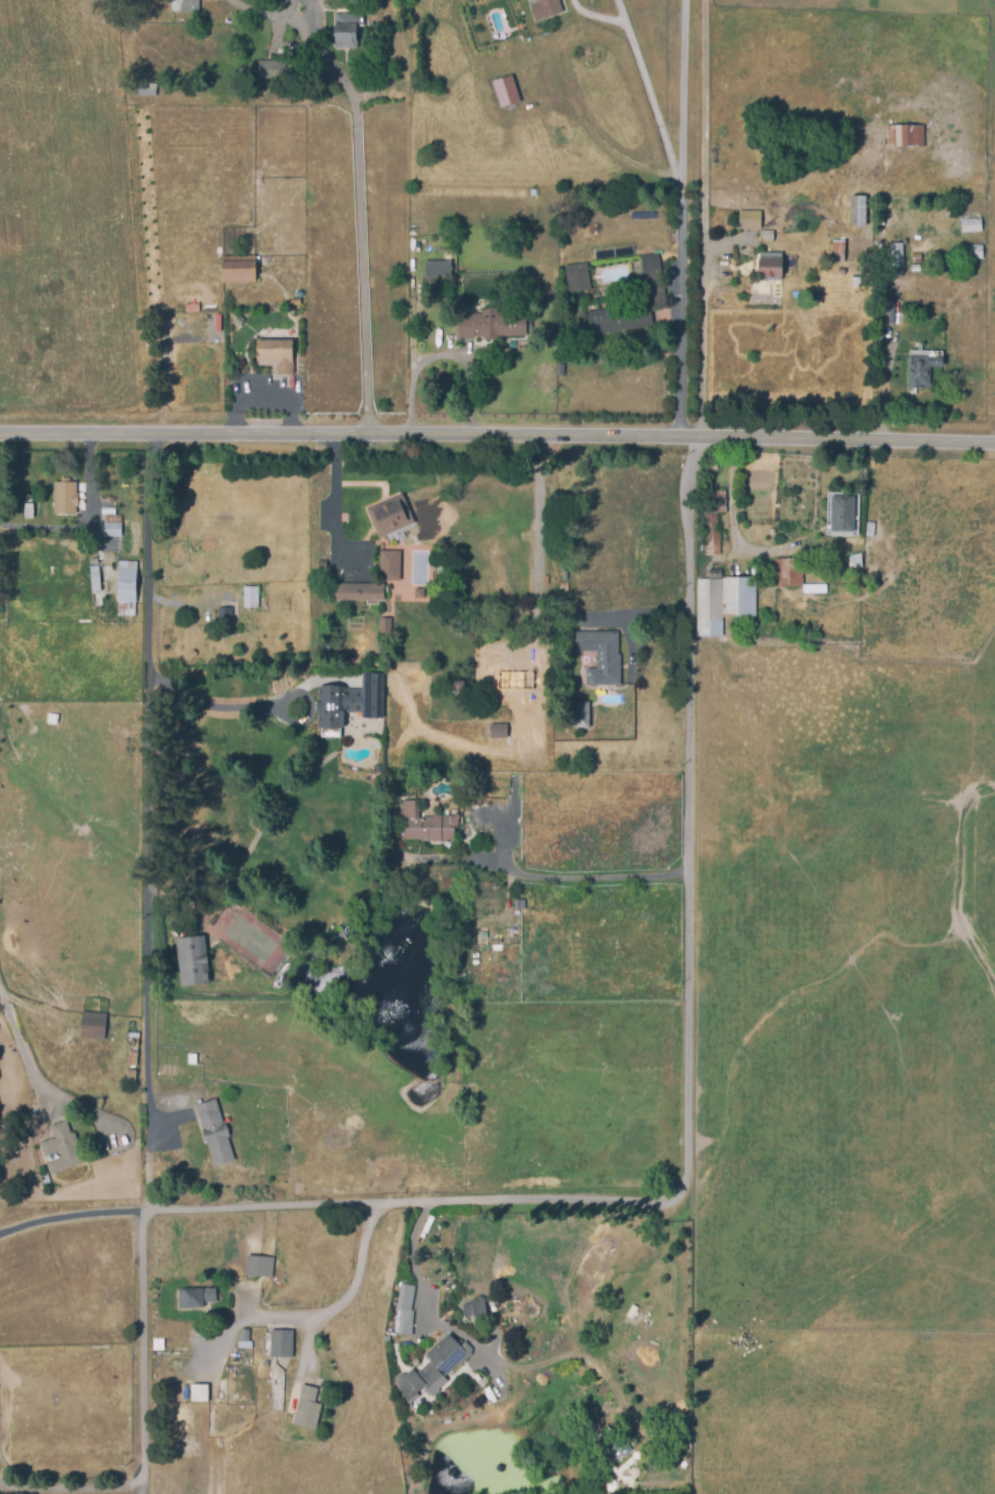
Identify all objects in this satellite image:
building: (184, 5)
building: (545, 9)
road: (619, 9)
road: (594, 15)
building: (346, 30)
building: (399, 39)
building: (504, 50)
building: (277, 68)
building: (402, 71)
building: (144, 89)
building: (504, 91)
road: (651, 103)
building: (323, 110)
building: (905, 136)
building: (855, 211)
road: (364, 214)
road: (685, 214)
road: (702, 215)
building: (750, 219)
building: (971, 224)
building: (766, 236)
building: (838, 250)
building: (972, 251)
building: (897, 252)
building: (916, 256)
building: (770, 265)
building: (915, 268)
building: (239, 269)
building: (436, 271)
building: (575, 276)
building: (650, 291)
building: (227, 296)
building: (296, 301)
building: (193, 308)
building: (893, 311)
building: (236, 319)
building: (214, 322)
building: (491, 323)
road: (411, 329)
road: (439, 354)
building: (276, 355)
building: (921, 367)
road: (883, 385)
road: (264, 400)
road: (497, 428)
building: (712, 466)
road: (334, 493)
building: (65, 496)
building: (28, 498)
road: (734, 500)
building: (715, 504)
building: (29, 510)
building: (843, 513)
building: (386, 514)
road: (88, 521)
building: (112, 526)
building: (712, 543)
building: (94, 547)
building: (855, 560)
building: (318, 563)
building: (388, 565)
building: (789, 571)
building: (96, 576)
building: (564, 585)
building: (127, 588)
building: (812, 588)
building: (355, 591)
building: (252, 594)
road: (534, 598)
building: (724, 601)
building: (225, 622)
building: (600, 656)
building: (459, 686)
building: (351, 701)
road: (219, 708)
building: (581, 714)
building: (53, 719)
building: (496, 731)
road: (145, 819)
building: (428, 825)
road: (586, 878)
building: (516, 904)
building: (492, 935)
building: (193, 961)
building: (92, 1026)
building: (130, 1048)
road: (25, 1060)
building: (129, 1076)
building: (214, 1132)
building: (59, 1147)
road: (654, 1196)
road: (69, 1216)
building: (446, 1238)
building: (259, 1266)
road: (419, 1289)
building: (193, 1297)
building: (475, 1308)
building: (404, 1311)
road: (320, 1314)
building: (242, 1340)
building: (278, 1344)
building: (432, 1369)
building: (197, 1392)
building: (302, 1406)
road: (71, 1490)

